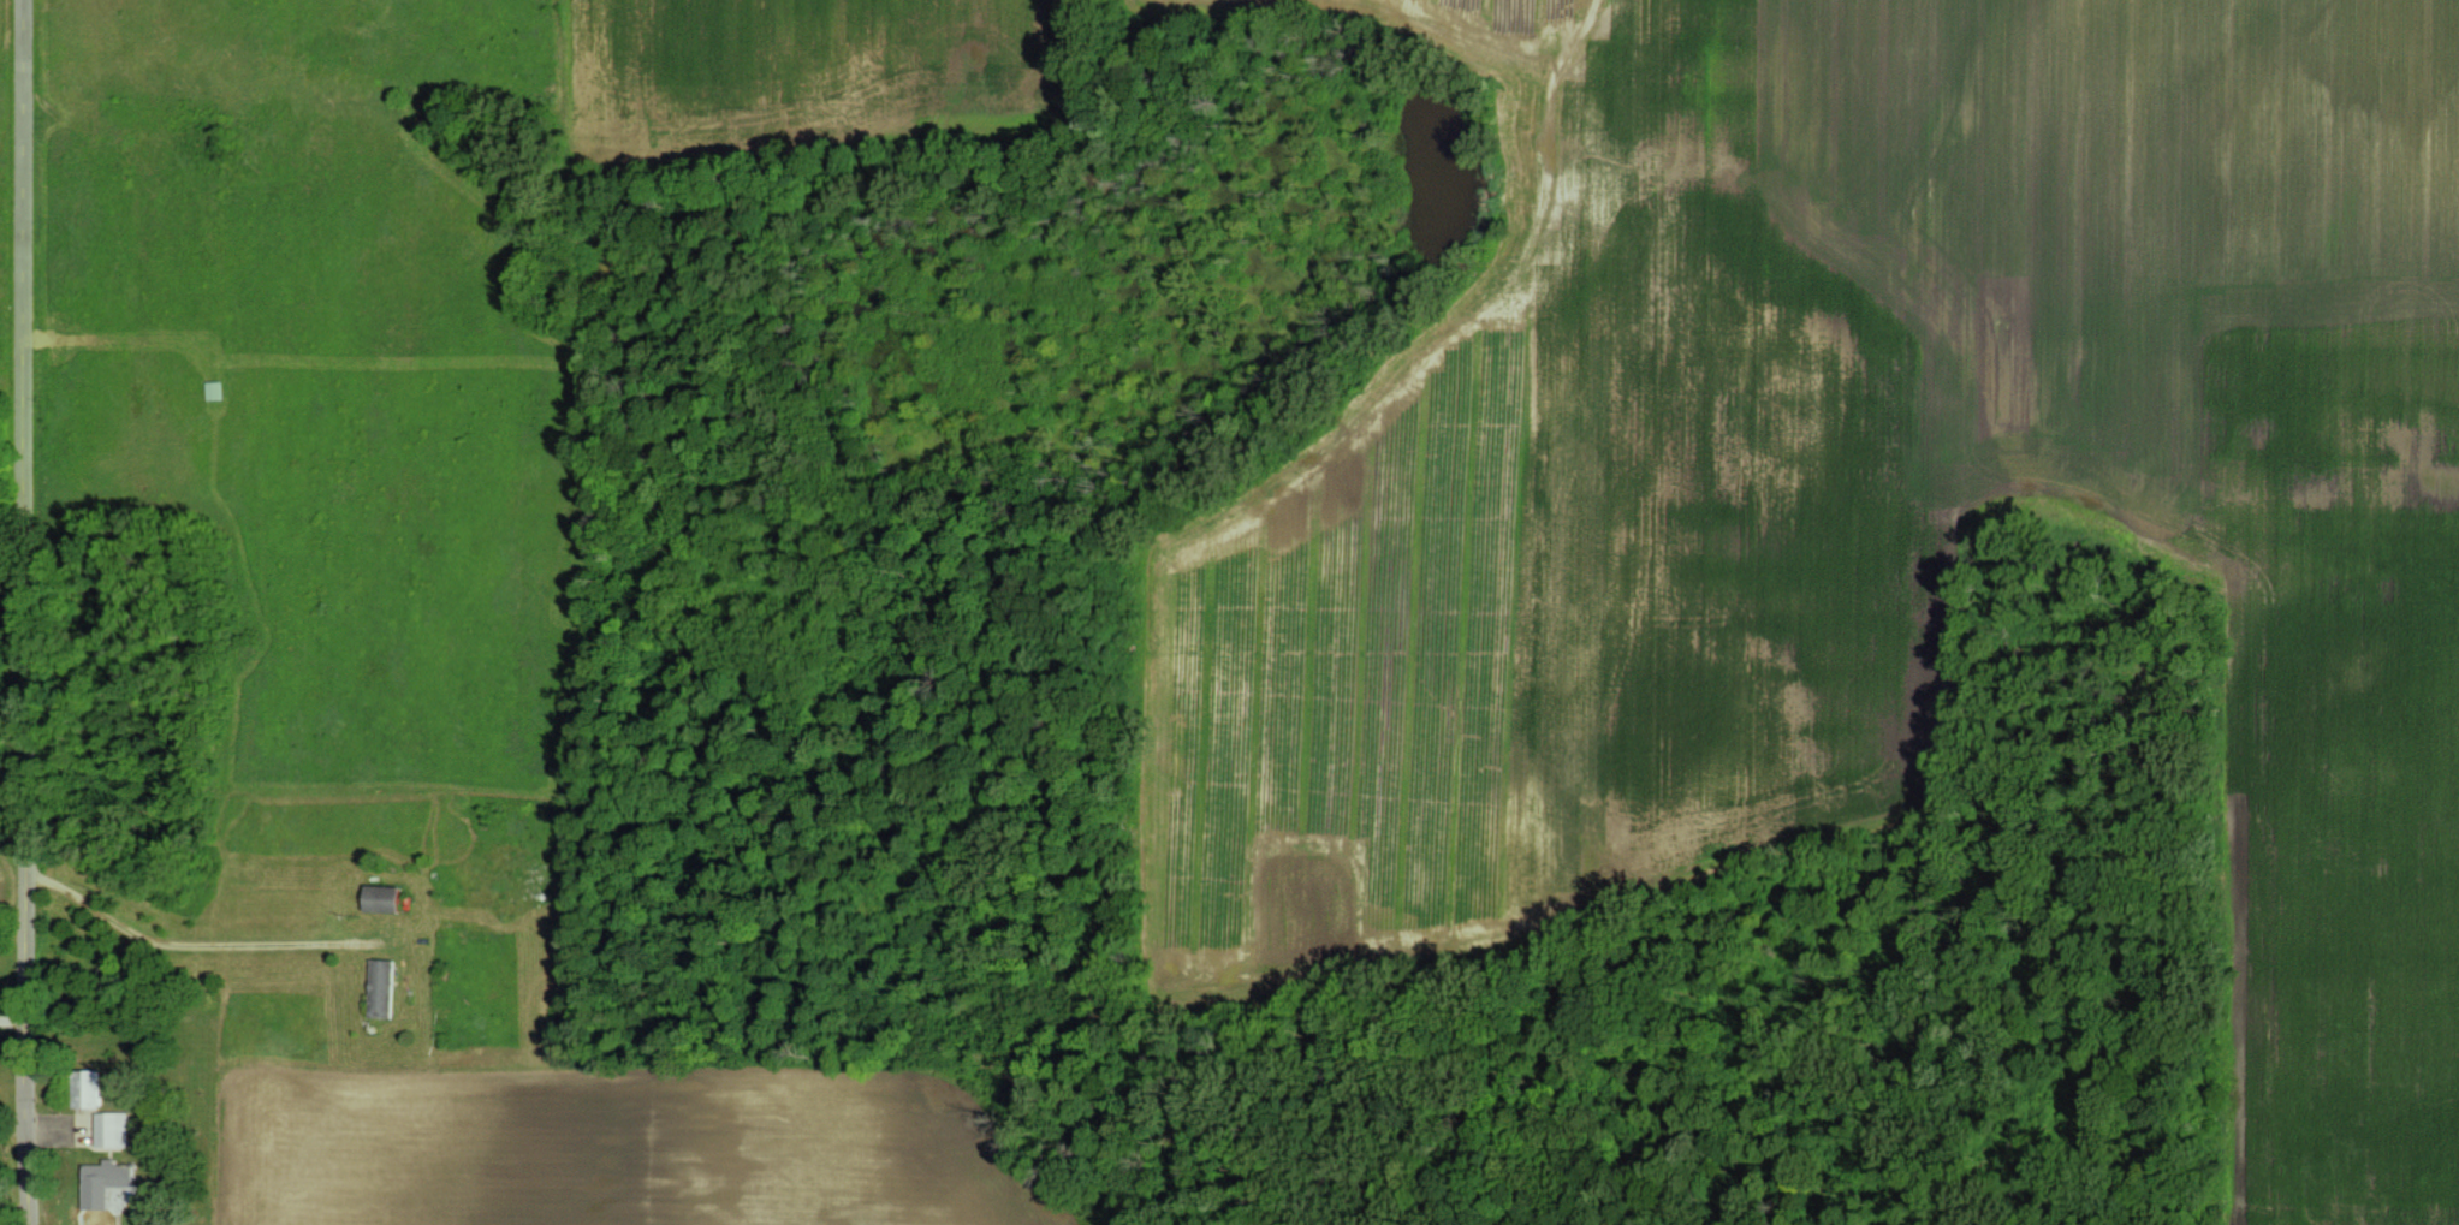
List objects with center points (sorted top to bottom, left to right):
road: (25, 612)
road: (13, 773)
building: (381, 898)
road: (195, 944)
building: (379, 987)
building: (83, 1089)
building: (108, 1128)
building: (101, 1182)

